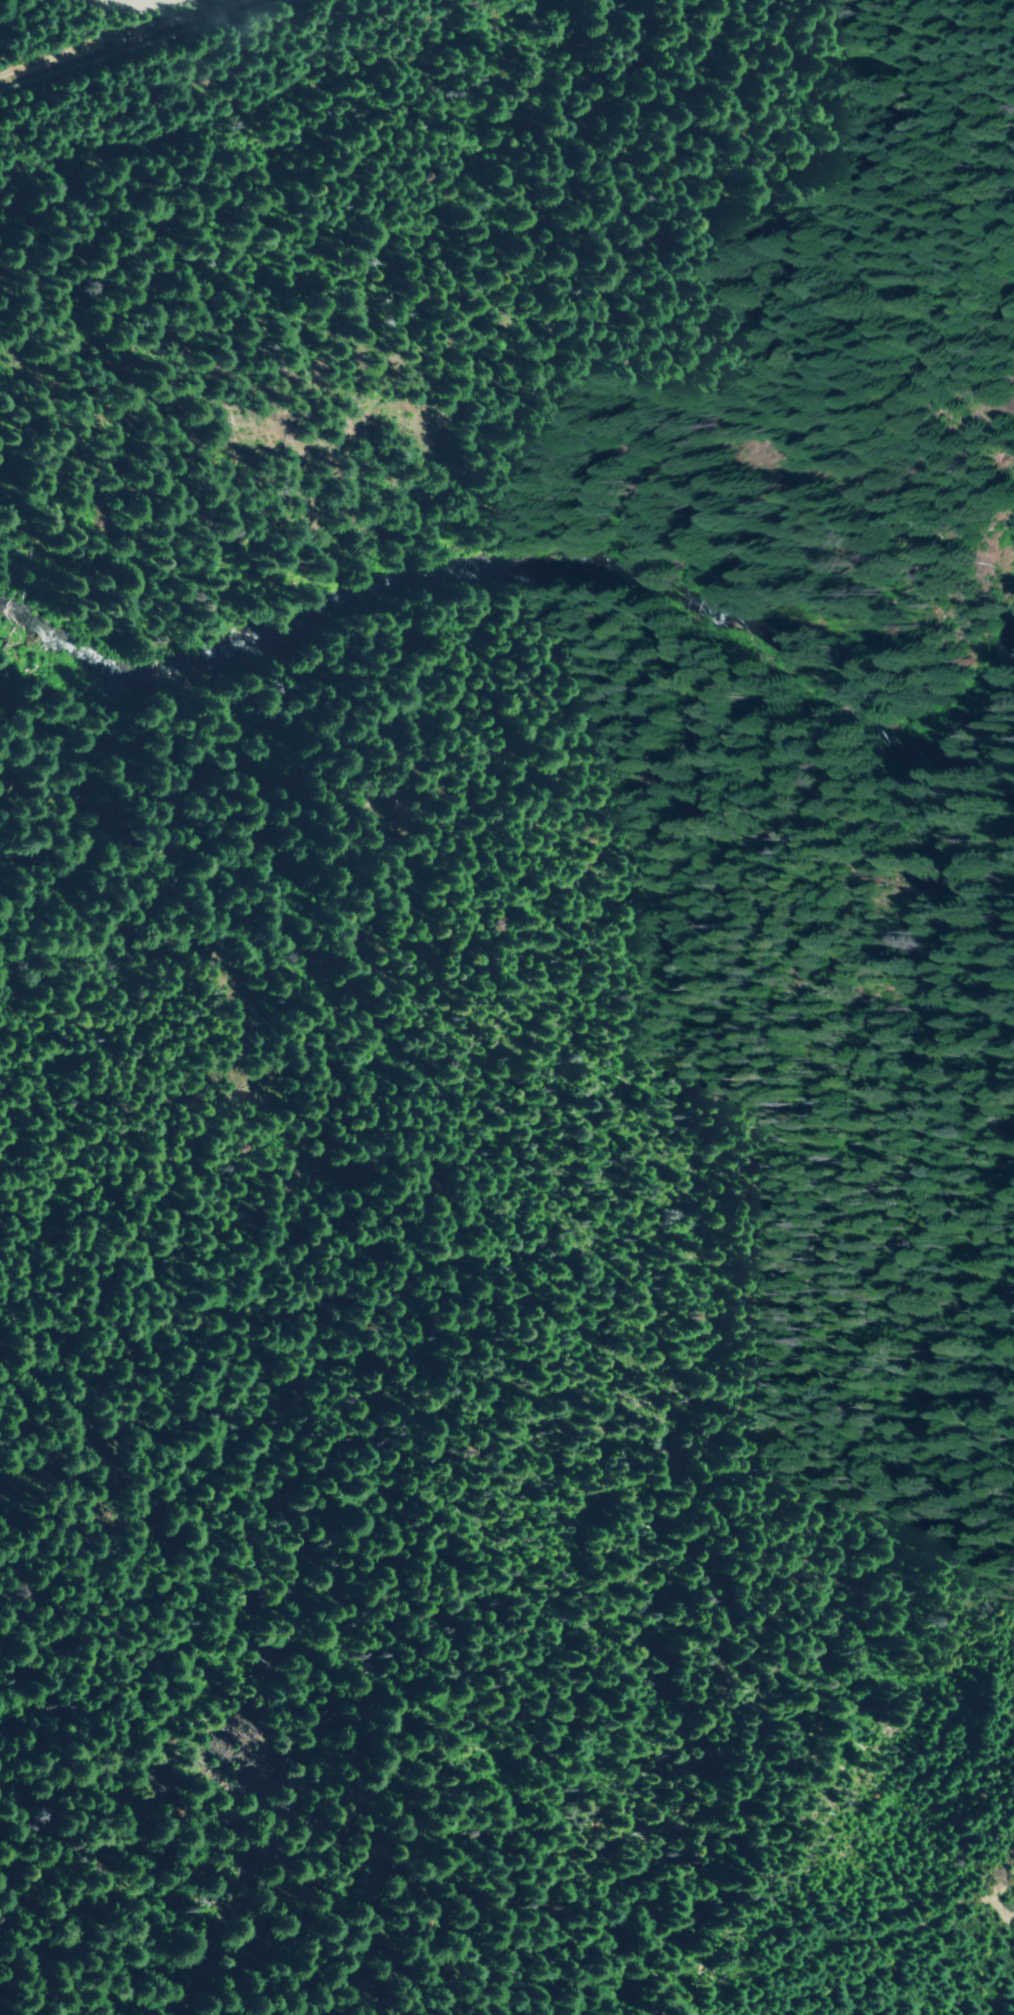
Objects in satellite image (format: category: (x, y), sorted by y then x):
road: (139, 1)
road: (120, 39)
river: (554, 574)
road: (456, 757)

